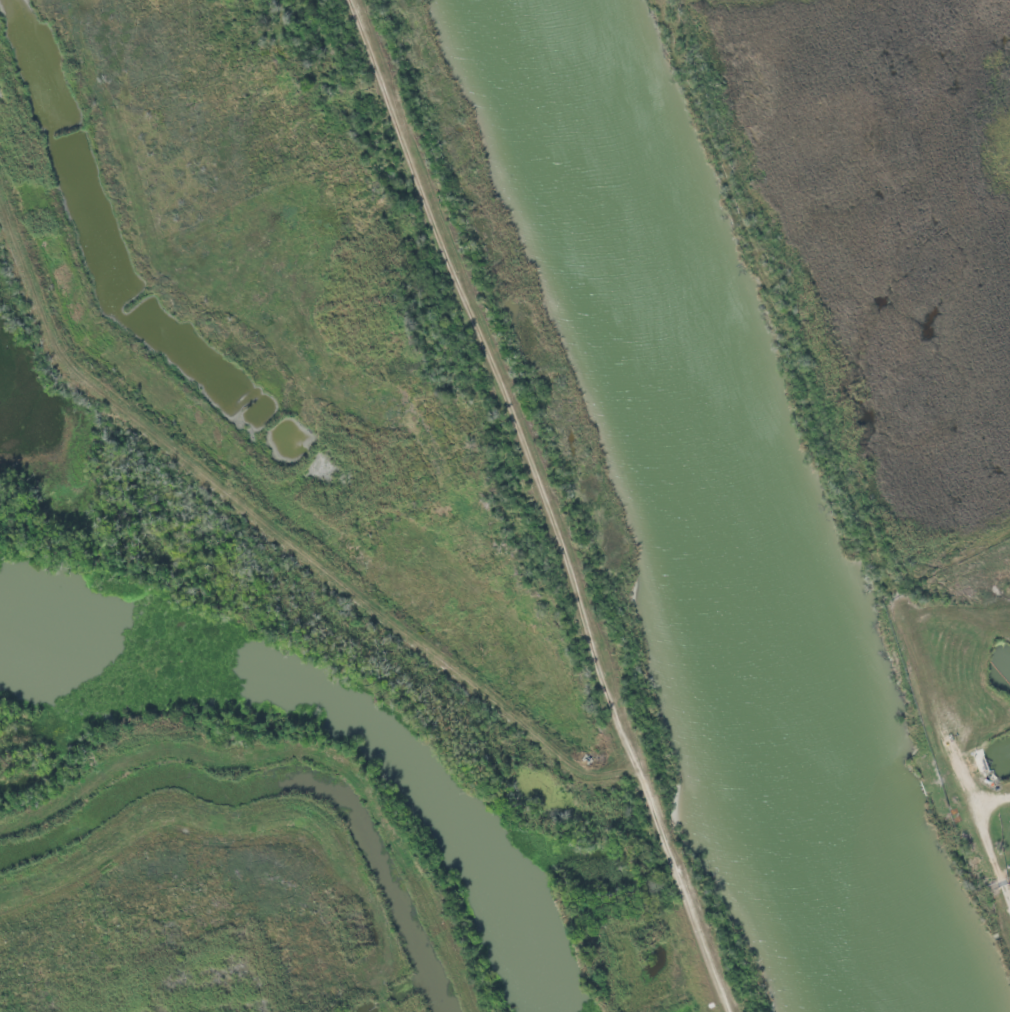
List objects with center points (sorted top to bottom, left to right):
road: (531, 506)
road: (985, 844)

